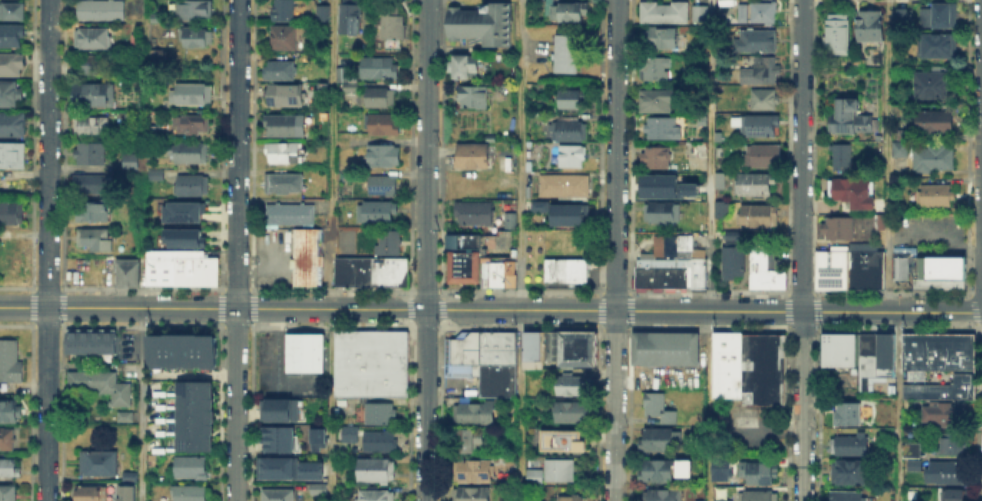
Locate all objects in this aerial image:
building: (728, 4)
building: (102, 9)
building: (196, 9)
building: (286, 10)
building: (568, 11)
building: (661, 11)
building: (12, 12)
building: (697, 12)
building: (764, 12)
building: (744, 14)
building: (324, 15)
building: (351, 17)
building: (943, 17)
building: (157, 18)
building: (903, 20)
building: (393, 24)
building: (485, 24)
building: (871, 28)
building: (838, 32)
building: (12, 35)
building: (193, 36)
building: (92, 37)
building: (285, 38)
building: (664, 38)
building: (756, 41)
building: (939, 47)
building: (568, 54)
building: (159, 57)
building: (12, 64)
building: (465, 64)
building: (860, 64)
building: (95, 65)
building: (281, 69)
building: (378, 69)
building: (656, 69)
building: (761, 73)
building: (347, 81)
building: (934, 85)
building: (195, 94)
building: (282, 94)
building: (10, 95)
building: (96, 95)
building: (474, 98)
building: (382, 99)
building: (571, 100)
building: (766, 100)
building: (656, 102)
road: (710, 115)
building: (131, 117)
building: (699, 117)
building: (842, 119)
building: (935, 123)
building: (869, 124)
building: (13, 125)
building: (193, 125)
building: (285, 125)
building: (384, 125)
building: (761, 127)
building: (92, 128)
building: (664, 129)
building: (153, 132)
building: (570, 133)
building: (715, 134)
building: (699, 147)
building: (896, 147)
building: (716, 150)
building: (186, 153)
building: (284, 153)
road: (330, 154)
building: (12, 155)
building: (93, 155)
building: (385, 156)
building: (930, 156)
building: (474, 157)
building: (572, 157)
building: (763, 157)
building: (656, 159)
building: (841, 159)
building: (131, 162)
building: (156, 175)
building: (716, 178)
building: (91, 183)
building: (285, 184)
building: (755, 184)
building: (383, 185)
building: (567, 186)
building: (656, 186)
building: (193, 187)
building: (691, 191)
building: (854, 193)
building: (937, 196)
building: (699, 206)
building: (718, 207)
building: (471, 210)
building: (659, 210)
building: (188, 211)
building: (561, 211)
building: (11, 212)
building: (376, 212)
building: (94, 213)
building: (755, 214)
building: (291, 216)
building: (507, 218)
building: (876, 220)
building: (835, 225)
building: (93, 237)
building: (189, 237)
building: (386, 242)
building: (669, 243)
building: (360, 246)
road: (47, 250)
road: (237, 250)
road: (426, 250)
road: (520, 250)
road: (614, 250)
road: (799, 250)
road: (887, 251)
building: (729, 253)
building: (305, 255)
building: (462, 256)
building: (951, 259)
building: (125, 263)
building: (855, 264)
building: (872, 265)
building: (150, 266)
building: (165, 266)
building: (179, 266)
building: (837, 266)
building: (898, 266)
building: (200, 267)
building: (564, 268)
building: (759, 268)
building: (820, 268)
building: (694, 269)
building: (351, 270)
building: (387, 270)
road: (709, 271)
building: (495, 272)
building: (917, 272)
building: (931, 272)
building: (646, 273)
building: (673, 273)
building: (950, 276)
building: (127, 277)
building: (776, 277)
road: (491, 309)
building: (71, 339)
building: (84, 339)
building: (96, 339)
building: (109, 339)
building: (550, 344)
building: (838, 345)
building: (469, 346)
building: (483, 346)
building: (501, 346)
building: (664, 346)
building: (567, 347)
building: (584, 347)
building: (7, 348)
building: (531, 348)
building: (912, 350)
building: (935, 350)
building: (960, 350)
building: (155, 351)
building: (171, 351)
building: (188, 351)
building: (205, 351)
building: (294, 351)
building: (312, 351)
building: (884, 355)
building: (870, 358)
building: (861, 361)
building: (368, 362)
building: (840, 364)
building: (748, 365)
building: (10, 369)
road: (192, 373)
building: (495, 379)
building: (101, 384)
building: (574, 386)
building: (941, 387)
building: (192, 388)
road: (329, 391)
building: (192, 403)
road: (141, 404)
road: (708, 406)
building: (279, 410)
building: (660, 410)
building: (941, 410)
building: (8, 411)
building: (476, 412)
building: (573, 413)
building: (845, 413)
building: (123, 414)
building: (381, 415)
building: (192, 416)
building: (192, 429)
building: (315, 436)
building: (350, 436)
building: (277, 439)
building: (7, 440)
building: (660, 440)
building: (469, 441)
building: (564, 441)
building: (192, 442)
building: (380, 443)
building: (952, 443)
building: (849, 445)
building: (908, 447)
building: (530, 461)
building: (911, 463)
building: (97, 464)
building: (275, 467)
building: (681, 467)
building: (10, 468)
building: (191, 468)
building: (309, 469)
building: (719, 469)
building: (375, 470)
building: (757, 470)
building: (475, 471)
building: (560, 471)
building: (658, 471)
building: (946, 472)
building: (850, 473)
building: (533, 476)
building: (130, 478)
building: (315, 487)
road: (330, 488)
building: (124, 492)
building: (191, 493)
building: (9, 494)
building: (92, 494)
building: (758, 494)
building: (956, 494)
building: (278, 495)
building: (475, 495)
building: (662, 495)
building: (375, 496)
building: (846, 496)
building: (571, 499)
building: (721, 499)
building: (697, 500)

